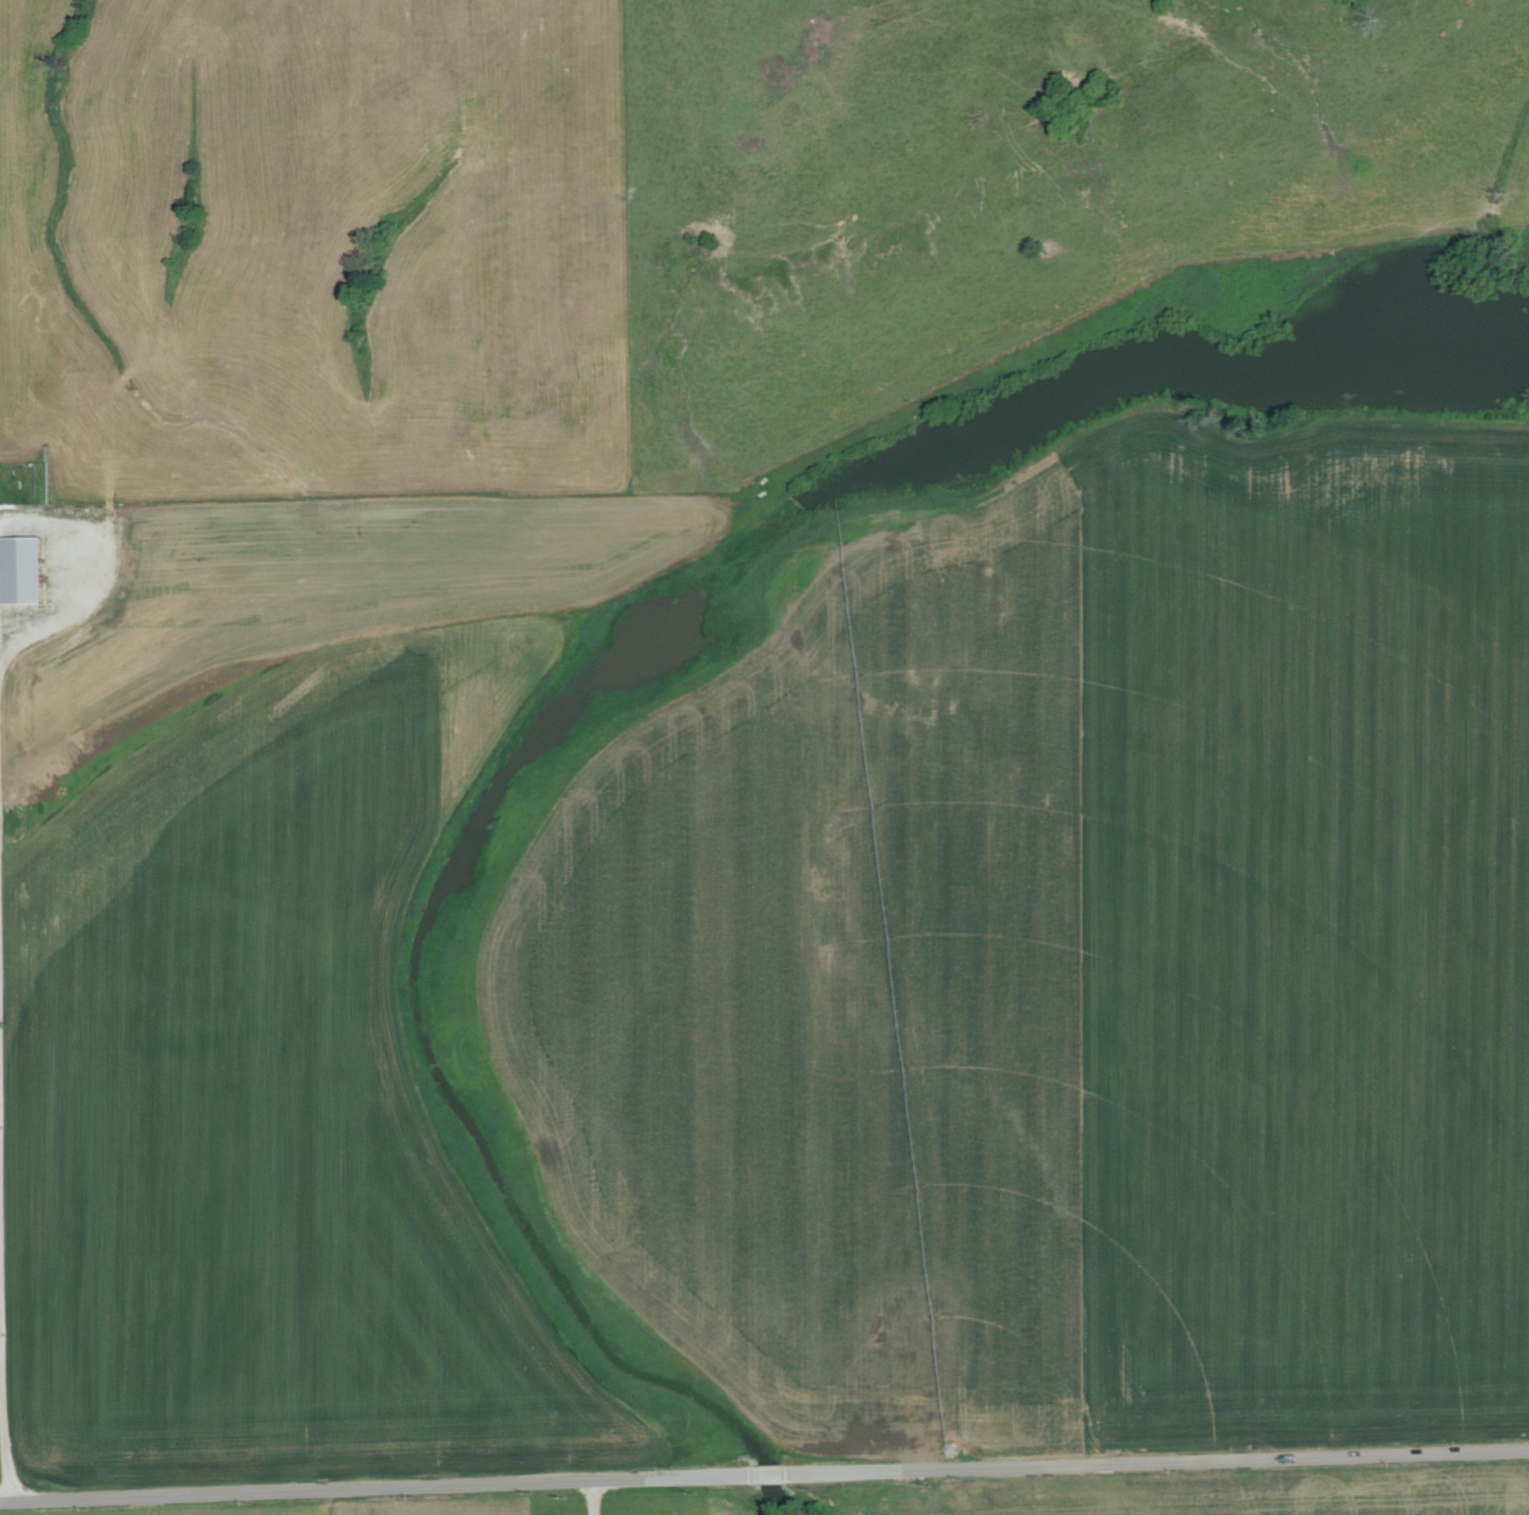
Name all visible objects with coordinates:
building: (28, 568)
road: (8, 1156)
road: (764, 1479)
road: (591, 1499)

